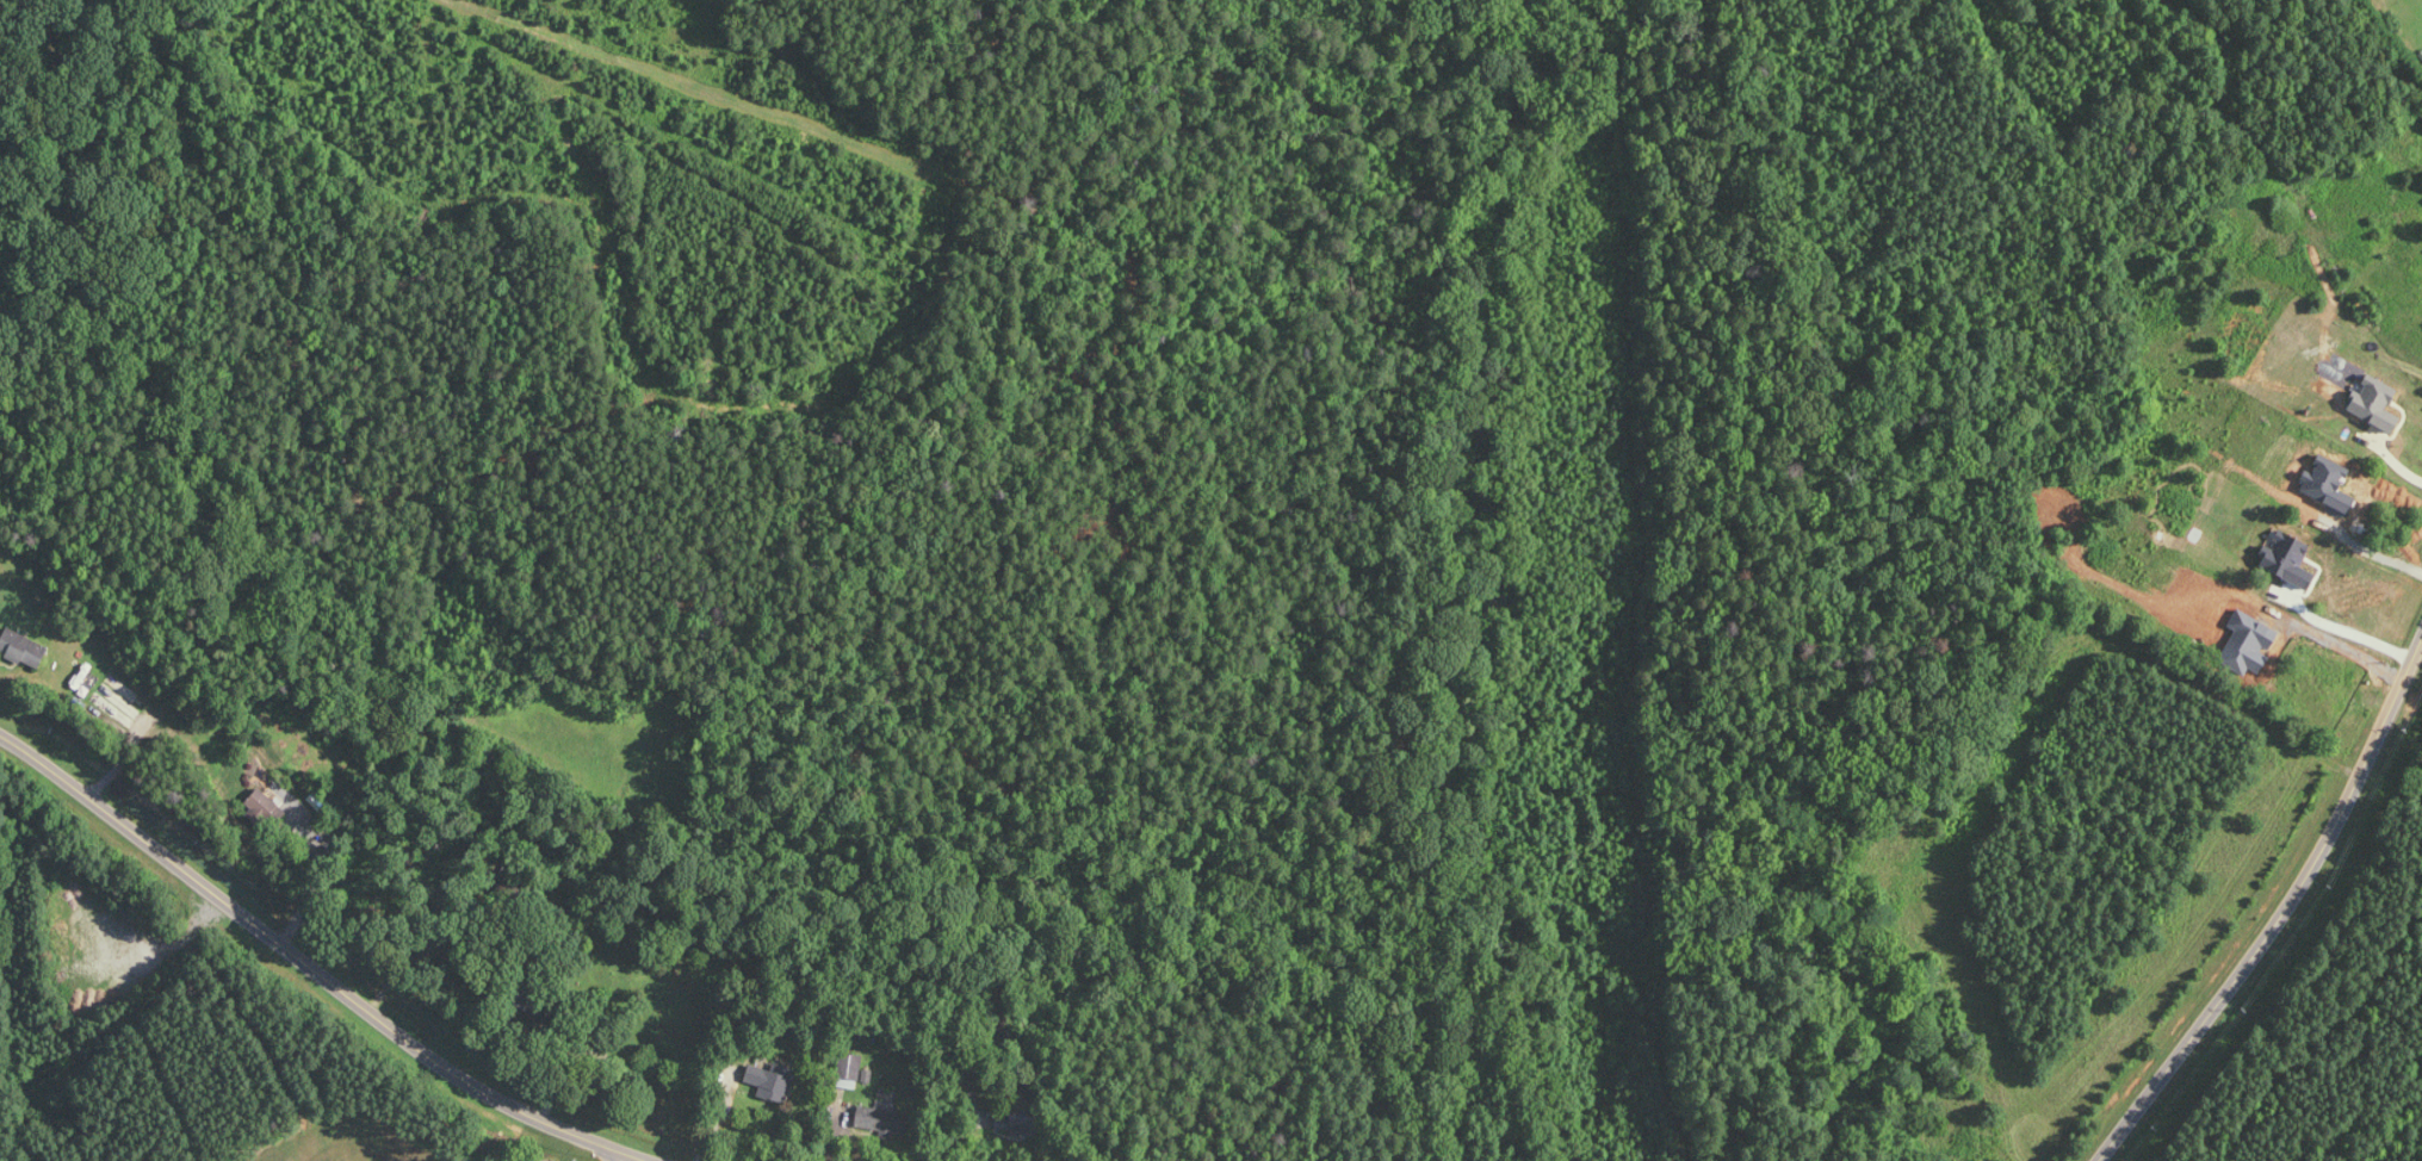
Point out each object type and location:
building: (2375, 402)
road: (2396, 461)
building: (2287, 559)
road: (2347, 634)
road: (2277, 904)
road: (332, 964)
road: (633, 1153)

